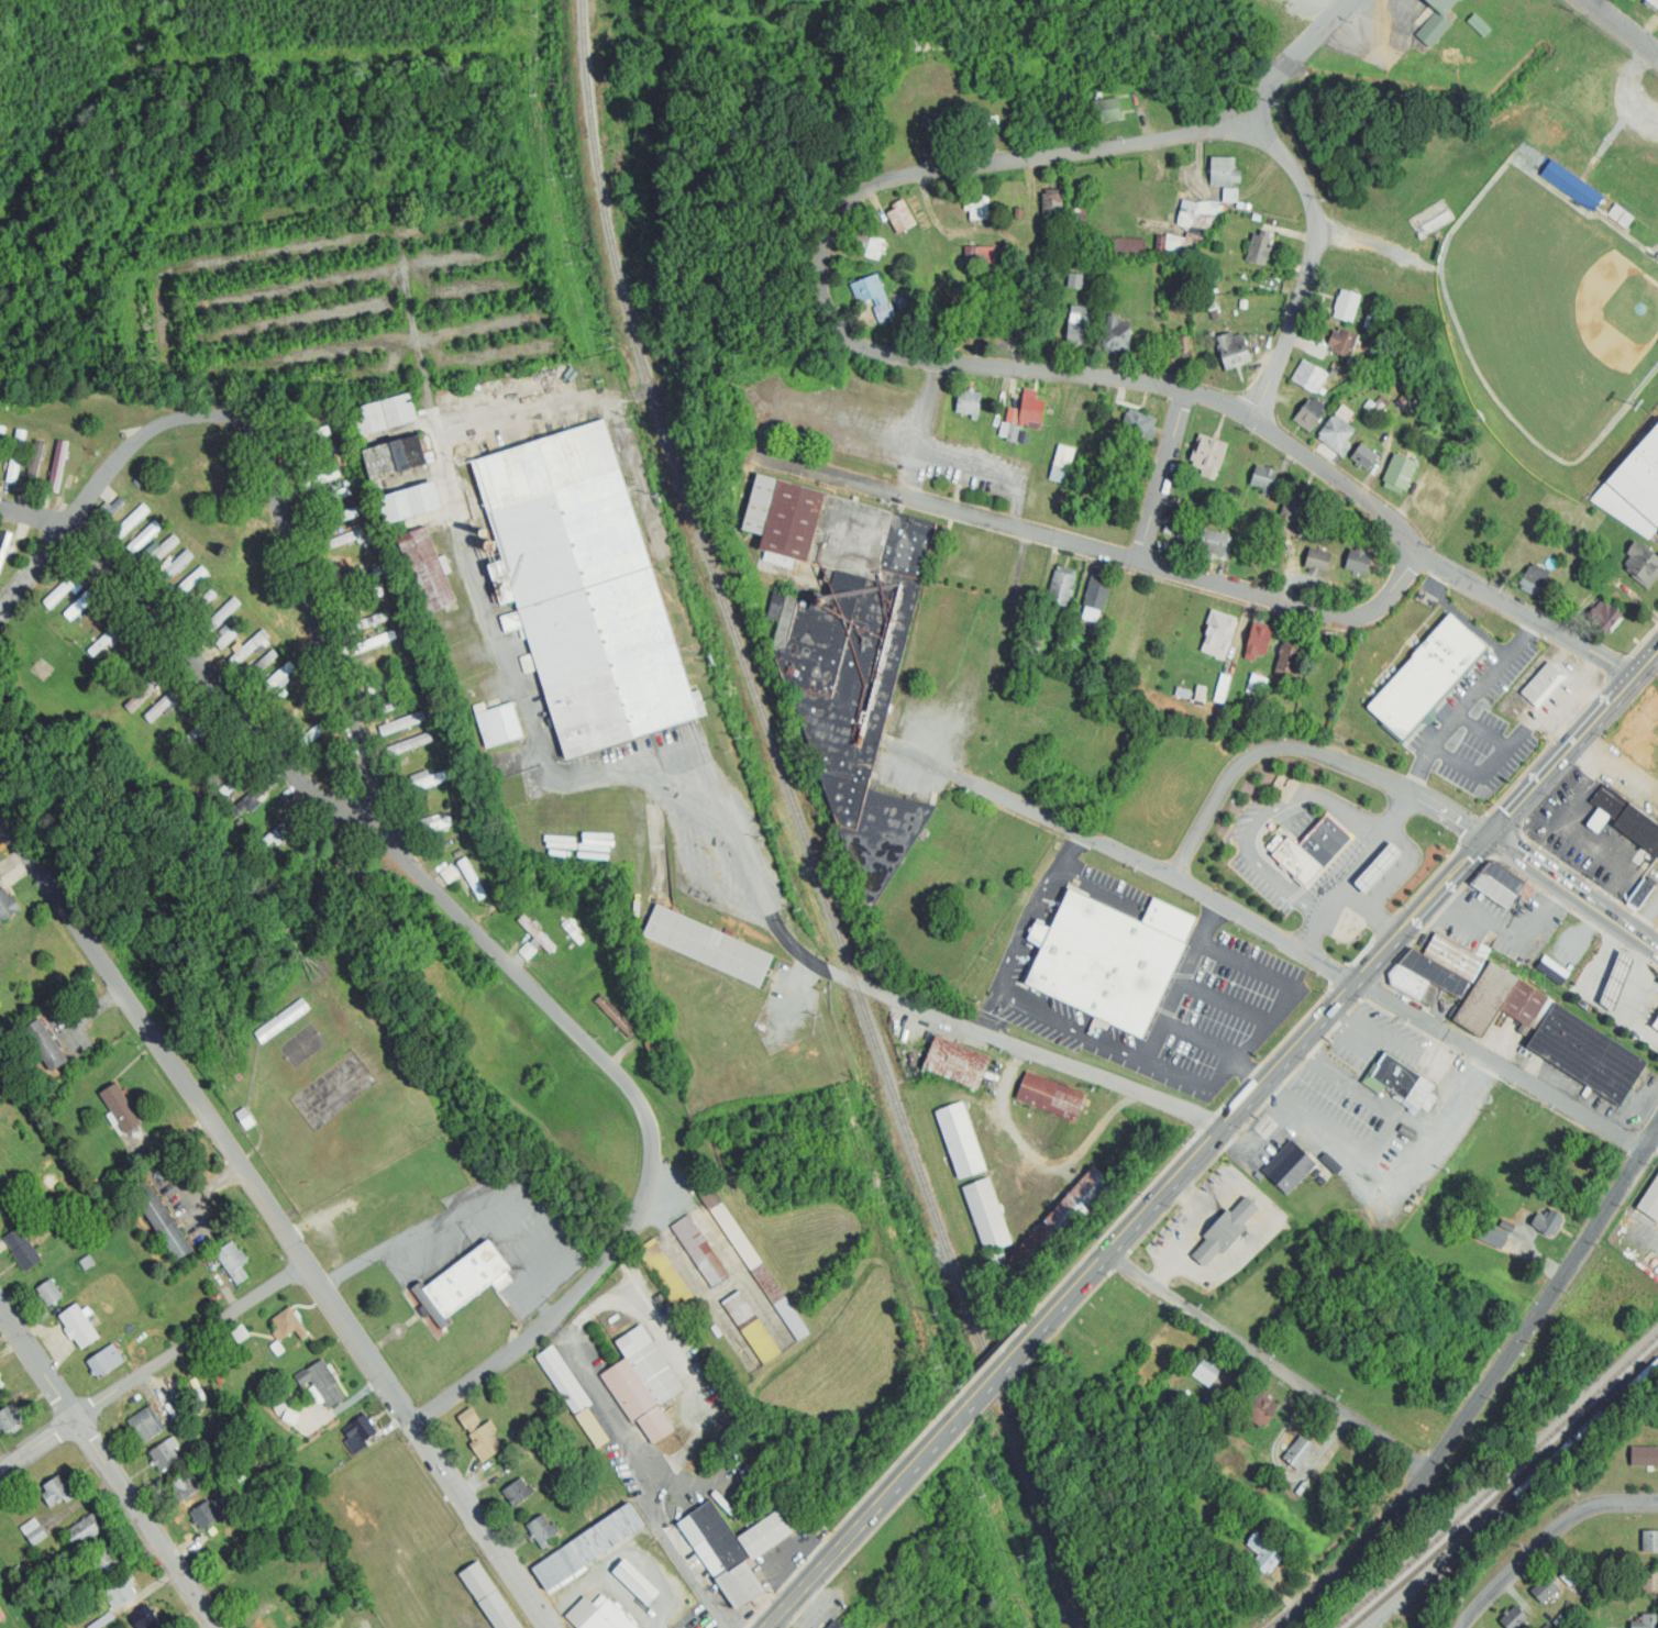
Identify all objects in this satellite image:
building: (1654, 2)
building: (1436, 21)
building: (1480, 24)
road: (1621, 27)
road: (1298, 57)
building: (1106, 109)
building: (932, 136)
building: (1224, 174)
building: (1572, 184)
building: (1230, 193)
building: (1051, 206)
building: (981, 207)
building: (1196, 212)
building: (1621, 213)
building: (900, 219)
road: (1358, 240)
building: (1171, 243)
building: (867, 245)
building: (1130, 245)
building: (1258, 248)
road: (1311, 261)
road: (824, 274)
building: (1075, 278)
building: (867, 288)
building: (903, 297)
building: (1346, 306)
stadium: (1556, 315)
building: (975, 323)
building: (1079, 326)
building: (1115, 333)
building: (1342, 342)
building: (1231, 351)
building: (1176, 352)
building: (1308, 376)
building: (1406, 397)
building: (968, 401)
building: (1031, 408)
building: (1311, 412)
building: (384, 414)
building: (1136, 428)
road: (922, 429)
building: (1014, 431)
building: (1334, 432)
building: (1, 434)
building: (308, 436)
building: (15, 456)
building: (313, 456)
building: (1363, 456)
building: (1208, 457)
building: (395, 458)
building: (1062, 462)
building: (33, 463)
building: (57, 463)
road: (993, 468)
building: (1400, 472)
road: (1162, 476)
building: (319, 478)
building: (1263, 479)
building: (1635, 489)
building: (1430, 492)
building: (328, 498)
building: (410, 503)
building: (112, 509)
building: (1296, 510)
building: (334, 518)
road: (287, 520)
building: (129, 521)
building: (341, 540)
building: (1213, 542)
building: (3, 544)
building: (158, 551)
road: (1107, 552)
building: (1317, 561)
building: (1358, 561)
building: (1640, 563)
road: (1435, 564)
road: (32, 566)
building: (173, 568)
building: (427, 571)
building: (352, 579)
building: (1532, 583)
building: (186, 584)
building: (584, 588)
building: (1060, 588)
building: (60, 589)
building: (1095, 596)
building: (203, 601)
building: (355, 601)
building: (80, 603)
building: (220, 616)
building: (1602, 616)
road: (494, 619)
building: (367, 621)
building: (229, 635)
building: (1218, 636)
building: (104, 639)
building: (374, 641)
building: (1257, 641)
building: (246, 647)
building: (1287, 656)
building: (848, 657)
building: (528, 662)
building: (259, 664)
road: (1647, 664)
building: (1424, 677)
building: (275, 679)
building: (383, 685)
building: (1539, 685)
building: (146, 690)
building: (164, 702)
building: (391, 704)
road: (1467, 705)
building: (497, 724)
building: (195, 731)
building: (409, 743)
building: (210, 746)
road: (1307, 752)
road: (1563, 756)
road: (1496, 764)
building: (235, 782)
building: (424, 783)
building: (250, 798)
road: (1347, 807)
building: (1627, 820)
road: (1, 821)
railway: (798, 822)
building: (433, 826)
building: (280, 829)
building: (340, 834)
traffic signals: (1492, 837)
building: (1322, 841)
road: (1066, 851)
road: (1251, 854)
road: (1135, 857)
building: (1295, 862)
building: (1381, 866)
road: (1403, 867)
road: (1353, 871)
building: (450, 873)
building: (1501, 877)
building: (472, 878)
road: (1096, 888)
building: (1492, 889)
building: (1642, 893)
road: (1574, 896)
building: (7, 906)
road: (1370, 911)
building: (1169, 921)
building: (535, 933)
road: (480, 935)
building: (530, 946)
building: (708, 948)
building: (1451, 959)
building: (1104, 964)
building: (1432, 973)
building: (1548, 973)
building: (1618, 978)
road: (1286, 983)
building: (1412, 986)
road: (1014, 998)
building: (1482, 1000)
road: (1227, 1001)
building: (1523, 1004)
road: (1168, 1014)
building: (616, 1016)
building: (280, 1021)
building: (1656, 1025)
road: (1386, 1038)
road: (152, 1039)
park: (302, 1044)
building: (44, 1045)
road: (1013, 1045)
road: (1305, 1053)
building: (1585, 1054)
building: (955, 1062)
road: (1502, 1065)
road: (1178, 1073)
road: (1269, 1076)
building: (1402, 1082)
building: (1050, 1096)
road: (1375, 1099)
building: (120, 1107)
road: (1268, 1131)
road: (1378, 1137)
building: (960, 1140)
road: (1037, 1158)
road: (1418, 1164)
building: (1291, 1171)
road: (196, 1195)
road: (489, 1197)
building: (1649, 1200)
building: (986, 1215)
building: (159, 1219)
building: (1547, 1222)
road: (1263, 1228)
building: (1050, 1230)
building: (1225, 1231)
road: (1189, 1232)
building: (1490, 1236)
building: (21, 1247)
building: (699, 1250)
building: (87, 1261)
building: (232, 1261)
building: (756, 1265)
building: (665, 1274)
building: (461, 1283)
building: (48, 1291)
road: (620, 1304)
building: (77, 1324)
building: (289, 1324)
building: (751, 1326)
building: (103, 1360)
road: (1265, 1360)
building: (650, 1364)
road: (152, 1365)
building: (1207, 1371)
road: (997, 1373)
building: (322, 1382)
building: (0, 1385)
road: (1482, 1393)
building: (573, 1397)
building: (638, 1399)
building: (1260, 1410)
building: (10, 1417)
building: (145, 1424)
building: (360, 1427)
building: (484, 1442)
road: (425, 1444)
railway: (1566, 1448)
building: (1298, 1453)
building: (164, 1454)
building: (1644, 1457)
road: (109, 1469)
railway: (1496, 1484)
building: (184, 1485)
building: (56, 1488)
railway: (1505, 1489)
building: (517, 1493)
road: (1604, 1504)
building: (203, 1514)
road: (856, 1528)
building: (33, 1530)
building: (81, 1531)
building: (541, 1531)
building: (1649, 1539)
building: (587, 1546)
building: (60, 1548)
building: (732, 1548)
building: (1264, 1551)
building: (104, 1559)
road: (687, 1565)
road: (1506, 1574)
railway: (1433, 1577)
building: (1649, 1580)
building: (635, 1581)
railway: (1422, 1581)
building: (1544, 1587)
building: (119, 1591)
building: (488, 1596)
building: (1, 1613)
building: (596, 1615)
building: (144, 1618)
building: (1514, 1618)
building: (275, 1619)
building: (1646, 1620)
building: (837, 1626)

